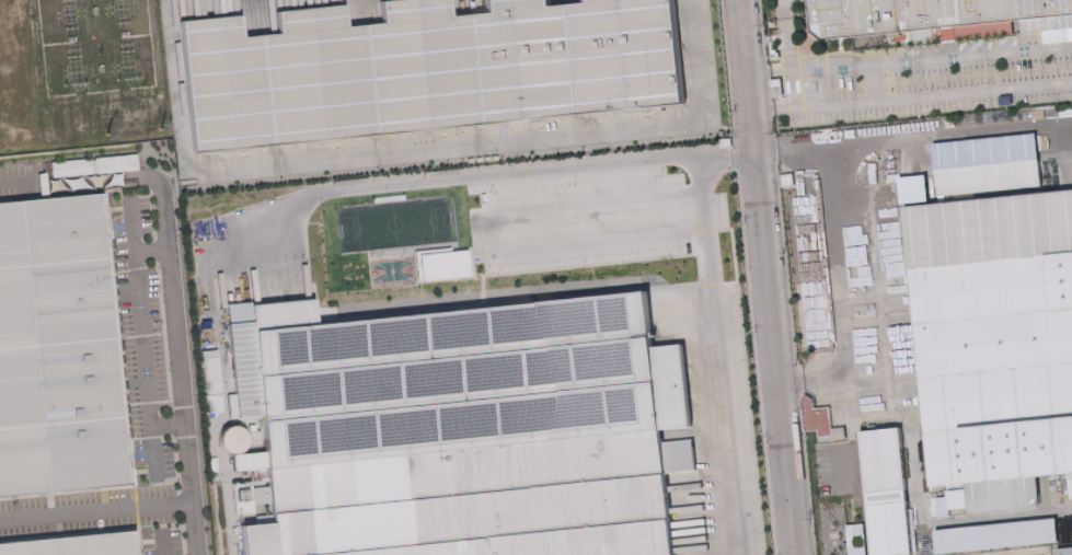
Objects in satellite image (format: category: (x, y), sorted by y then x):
parking lot: (792, 0)
building: (935, 19)
power tower: (761, 21)
road: (785, 37)
building: (423, 69)
power substation: (81, 74)
parking lot: (946, 77)
road: (174, 83)
power tower: (159, 126)
parking lot: (505, 127)
power tower: (771, 129)
power tower: (103, 130)
parking lot: (15, 177)
parking lot: (581, 218)
park: (391, 222)
power tower: (785, 247)
building: (449, 265)
road: (770, 277)
parking lot: (139, 334)
building: (62, 349)
power tower: (796, 361)
parking lot: (712, 379)
parking lot: (841, 466)
power tower: (805, 513)
parking lot: (155, 540)

